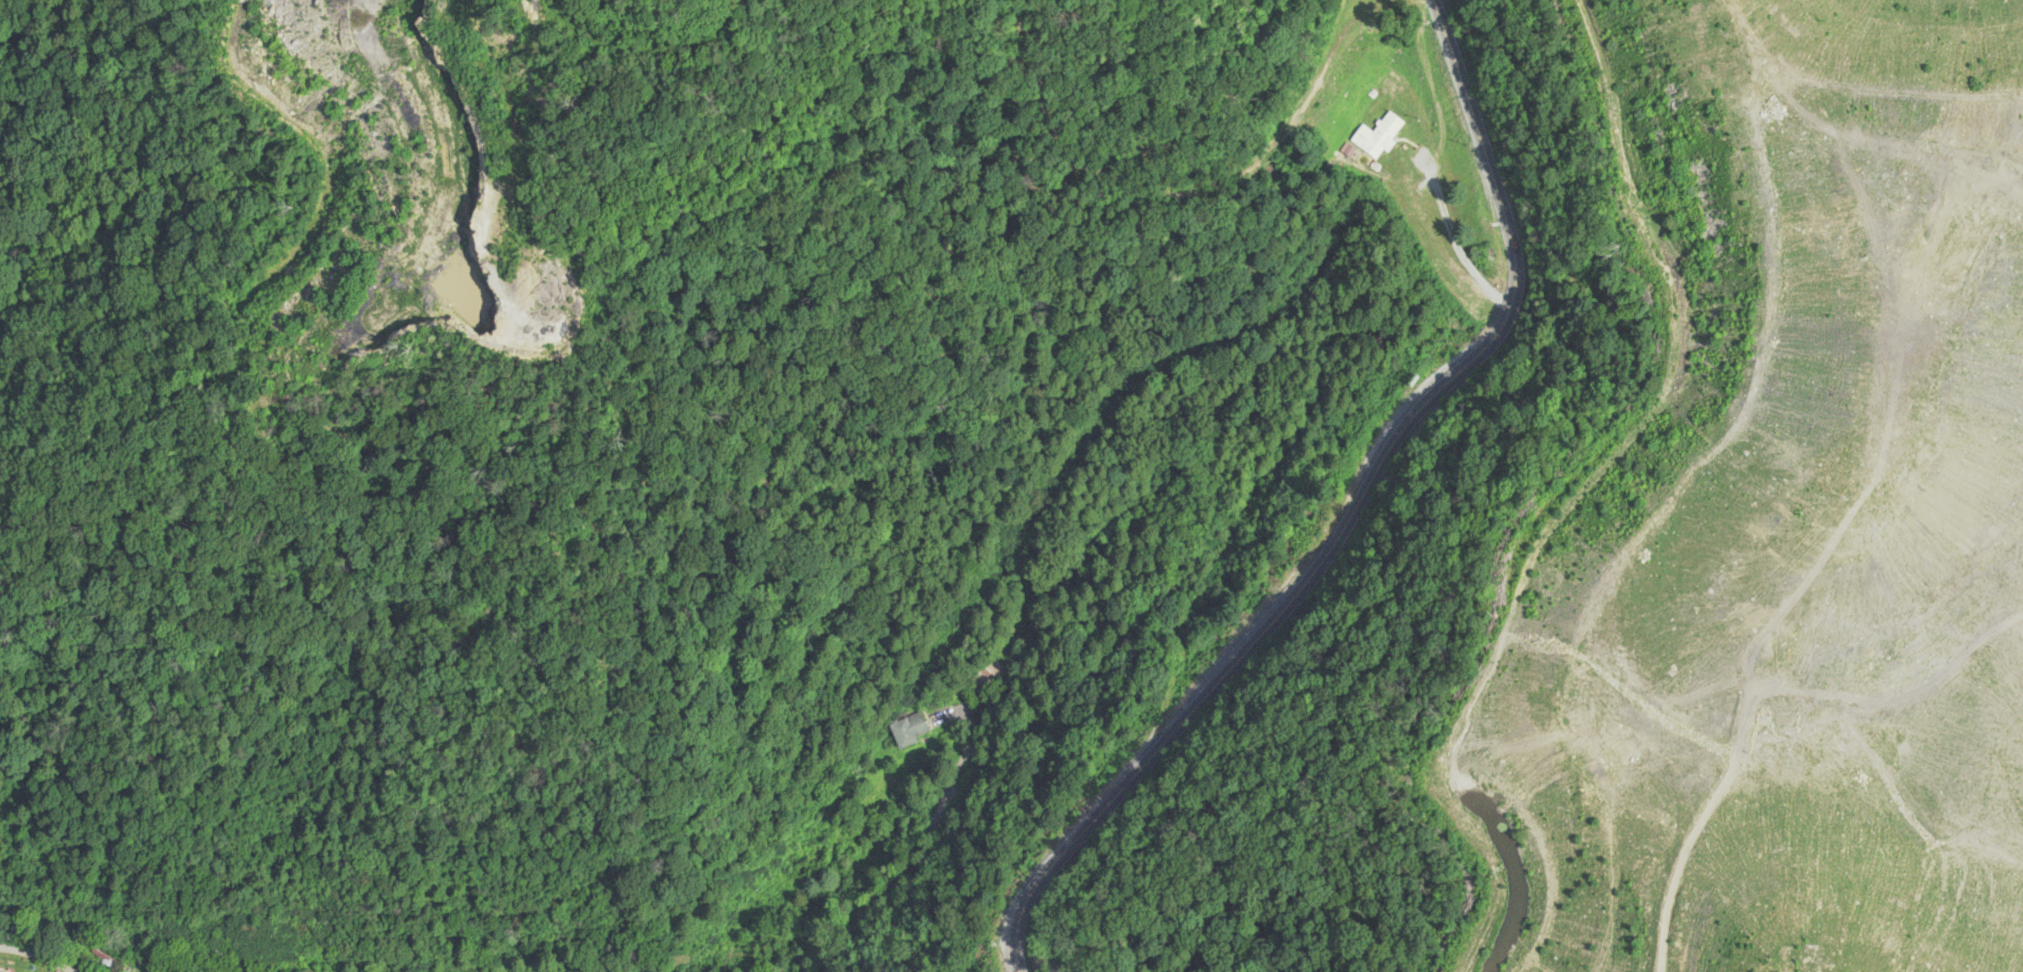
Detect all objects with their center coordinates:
building: (1378, 137)
road: (1345, 509)
building: (913, 730)
road: (551, 794)
building: (0, 971)

